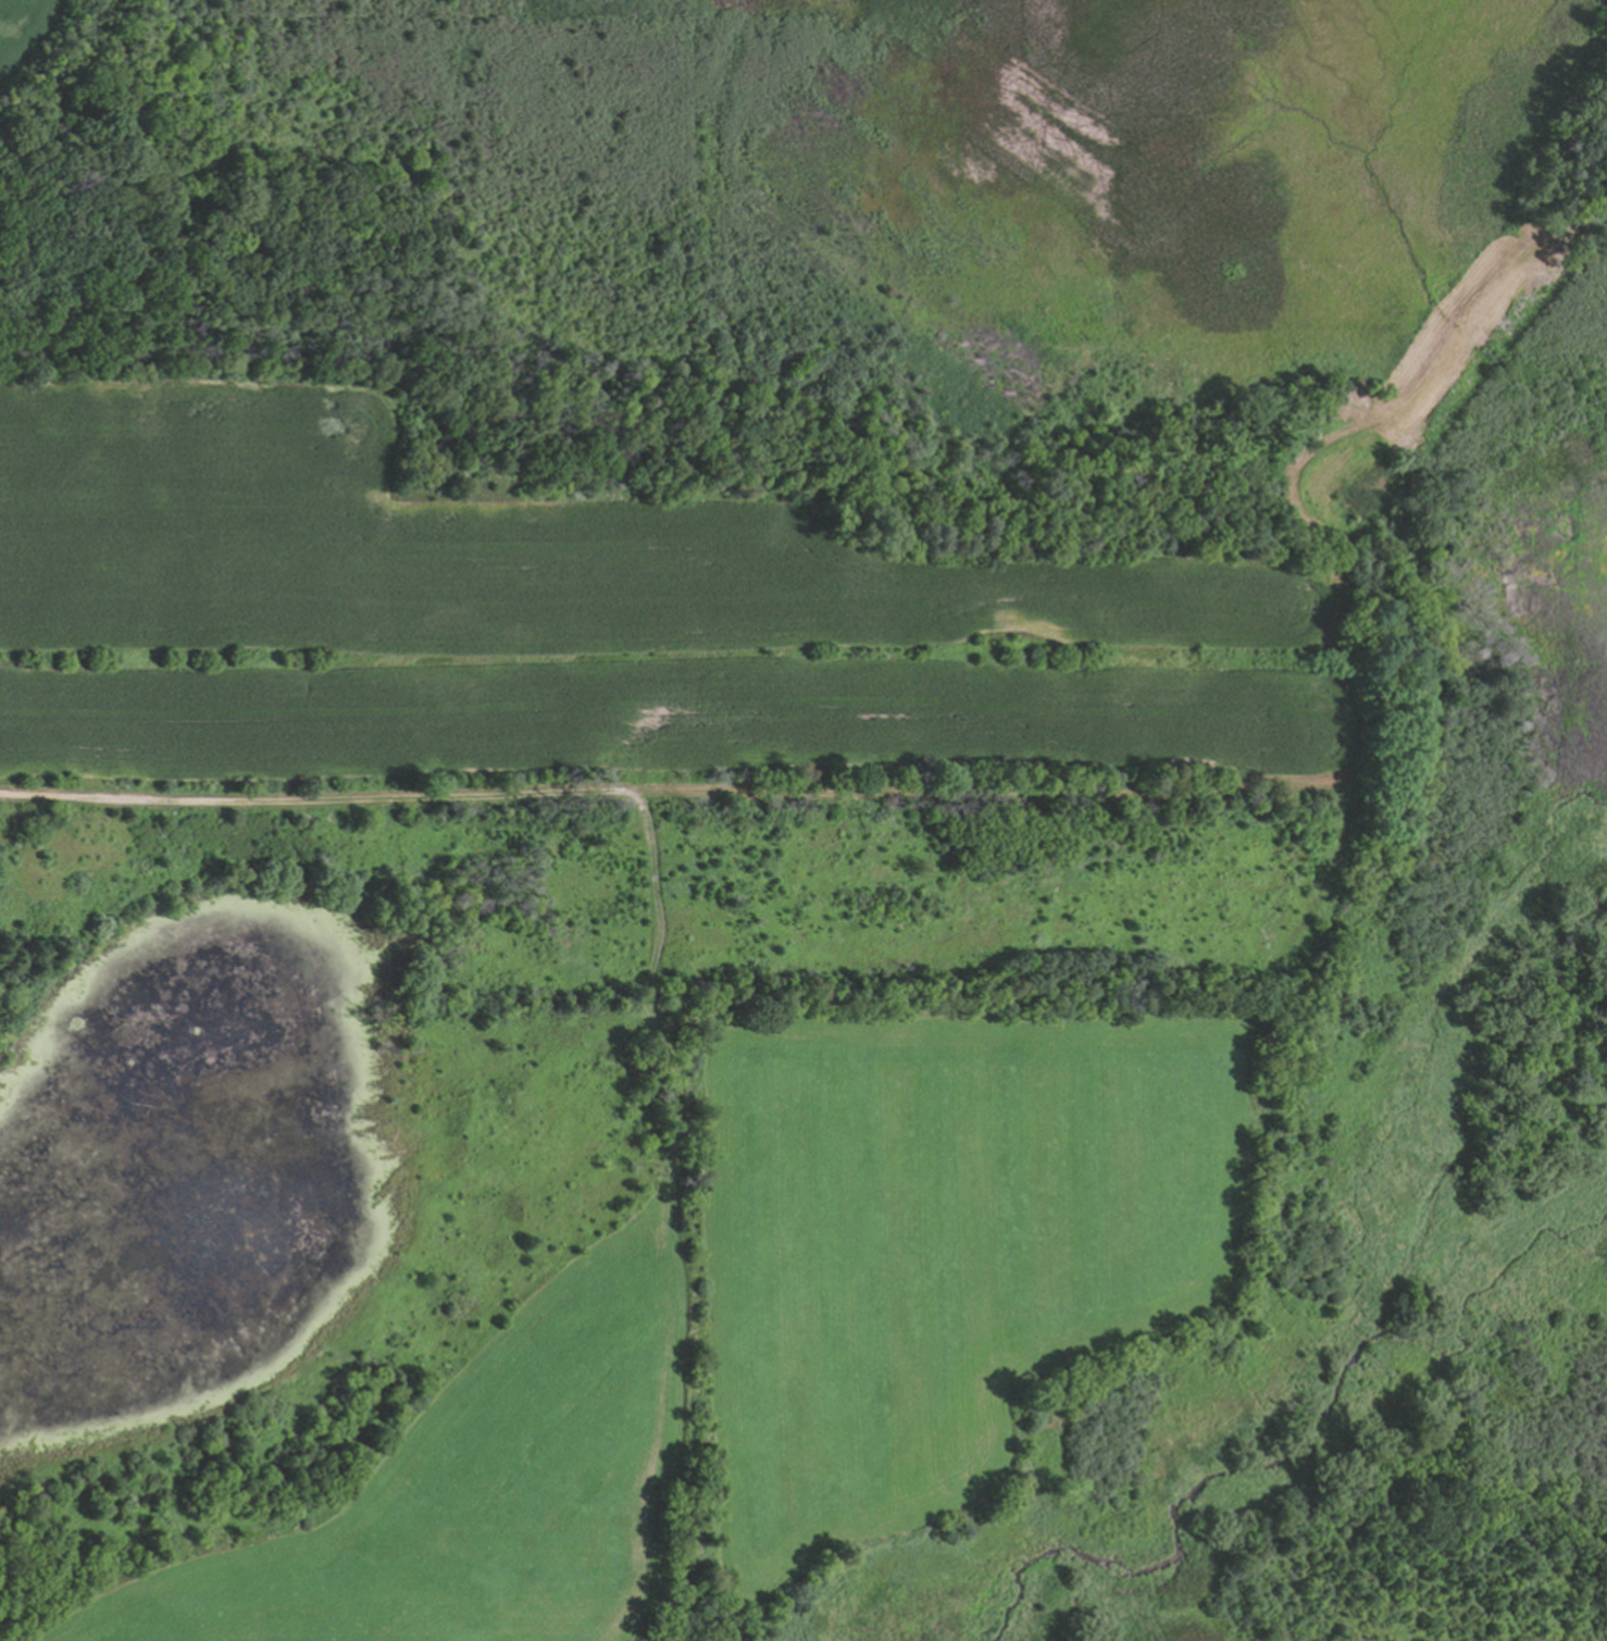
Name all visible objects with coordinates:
road: (662, 786)

